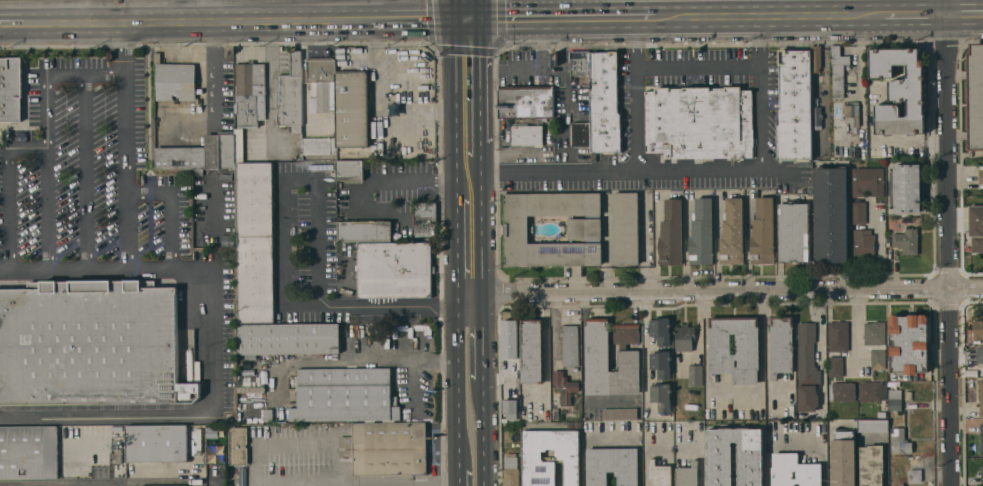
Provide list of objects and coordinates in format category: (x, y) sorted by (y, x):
road: (847, 6)
road: (871, 6)
road: (693, 7)
road: (765, 7)
road: (789, 7)
road: (535, 8)
road: (600, 8)
road: (645, 8)
road: (455, 9)
road: (482, 9)
road: (197, 10)
road: (965, 11)
road: (796, 13)
road: (580, 16)
road: (616, 16)
road: (639, 16)
road: (509, 17)
road: (539, 17)
road: (552, 17)
road: (413, 18)
traffic signals: (456, 18)
road: (469, 18)
traffic signals: (483, 18)
road: (198, 20)
road: (13, 23)
road: (124, 41)
road: (543, 44)
road: (857, 54)
building: (816, 59)
building: (579, 61)
road: (698, 70)
road: (548, 72)
building: (838, 72)
road: (113, 75)
road: (74, 76)
building: (174, 80)
road: (483, 80)
building: (321, 83)
road: (270, 85)
building: (10, 89)
building: (900, 90)
building: (249, 93)
building: (290, 93)
road: (633, 94)
building: (975, 96)
building: (526, 101)
building: (605, 103)
road: (375, 104)
building: (794, 105)
road: (456, 106)
building: (351, 109)
building: (852, 113)
building: (817, 117)
building: (699, 122)
building: (839, 131)
building: (581, 134)
building: (527, 135)
road: (910, 143)
building: (239, 145)
road: (949, 145)
building: (319, 146)
road: (27, 148)
road: (483, 149)
building: (199, 154)
road: (124, 165)
building: (349, 169)
road: (698, 173)
road: (46, 174)
road: (83, 174)
building: (981, 176)
road: (417, 178)
building: (867, 181)
building: (907, 188)
road: (7, 210)
road: (170, 210)
building: (858, 213)
building: (830, 214)
building: (425, 218)
road: (483, 227)
building: (976, 227)
building: (584, 228)
building: (625, 228)
building: (364, 231)
building: (671, 232)
building: (701, 232)
building: (732, 232)
building: (763, 232)
building: (793, 232)
building: (906, 241)
building: (255, 242)
building: (863, 243)
road: (457, 247)
road: (286, 256)
road: (879, 256)
building: (394, 269)
road: (5, 272)
road: (112, 272)
road: (967, 289)
road: (704, 294)
building: (660, 330)
building: (977, 331)
building: (626, 334)
building: (838, 336)
building: (288, 338)
road: (483, 338)
building: (684, 338)
road: (212, 341)
building: (875, 342)
building: (90, 344)
building: (747, 344)
building: (908, 344)
building: (570, 345)
building: (781, 345)
building: (532, 351)
building: (980, 354)
building: (509, 355)
road: (353, 358)
building: (608, 363)
building: (661, 363)
building: (835, 366)
building: (807, 368)
building: (695, 375)
building: (891, 384)
road: (458, 385)
building: (564, 386)
road: (953, 388)
road: (733, 389)
building: (843, 391)
building: (872, 391)
building: (344, 395)
building: (908, 395)
building: (661, 396)
building: (981, 397)
building: (894, 399)
building: (510, 406)
building: (555, 413)
building: (619, 413)
road: (106, 414)
building: (882, 414)
building: (873, 425)
road: (483, 432)
building: (196, 434)
building: (981, 438)
building: (900, 441)
building: (156, 443)
building: (238, 446)
building: (386, 448)
building: (28, 452)
building: (537, 458)
road: (646, 458)
building: (843, 458)
building: (719, 460)
building: (612, 465)
building: (872, 465)
building: (511, 471)
building: (794, 471)
building: (659, 474)
building: (687, 475)
building: (915, 475)
building: (981, 476)
road: (459, 479)
road: (280, 482)
building: (173, 485)
road: (434, 485)
building: (901, 485)

